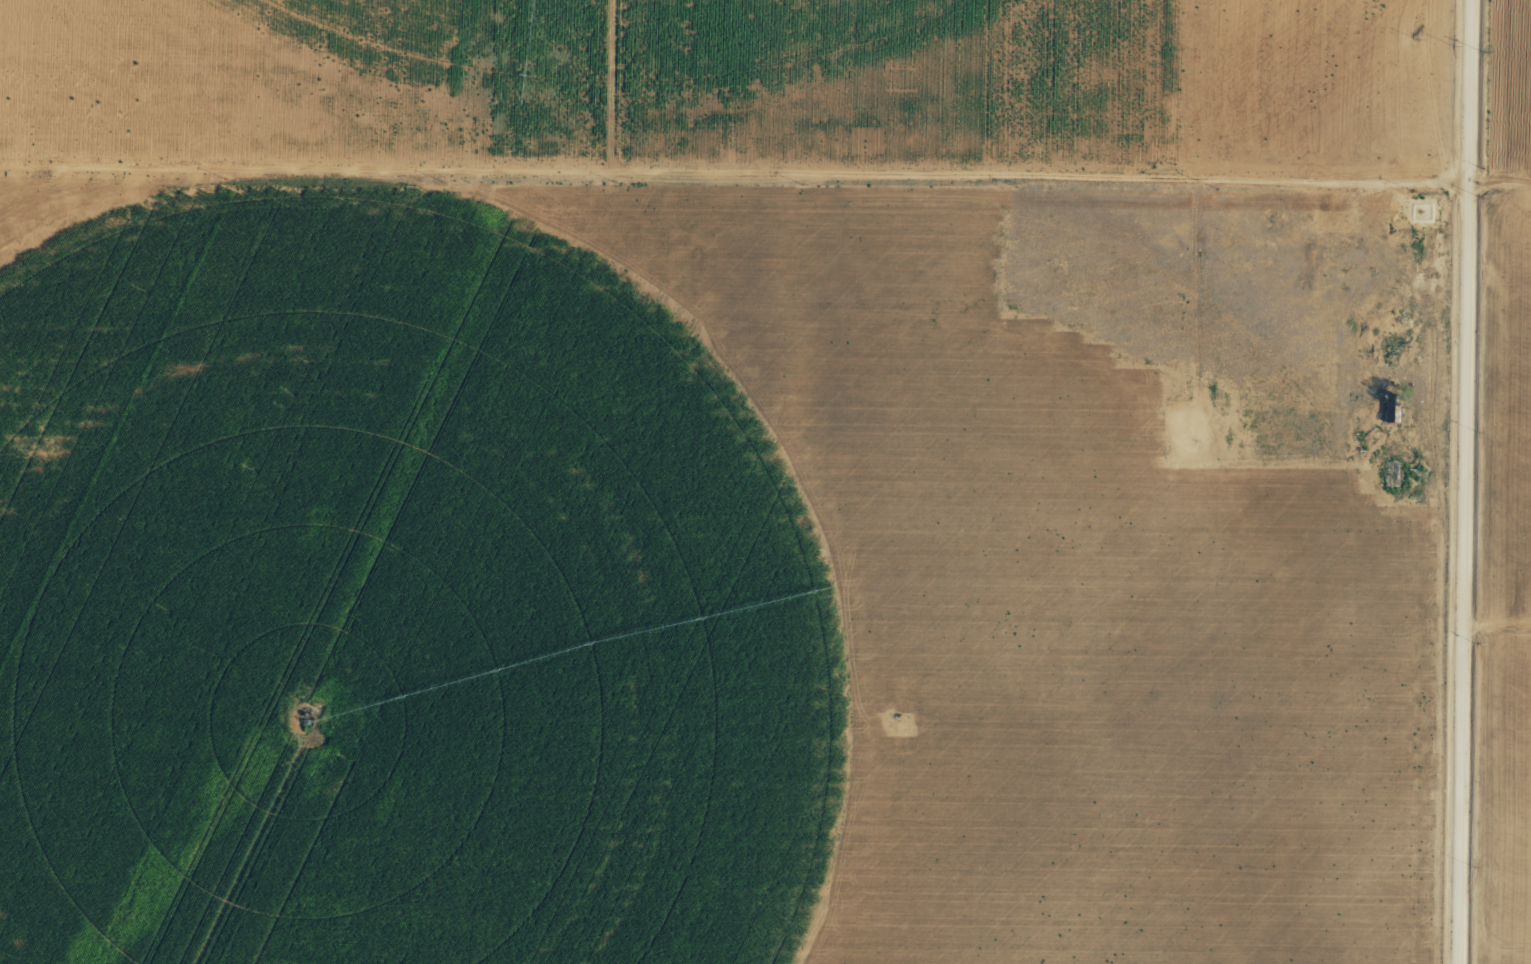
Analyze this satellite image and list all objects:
road: (765, 184)
road: (1459, 481)

